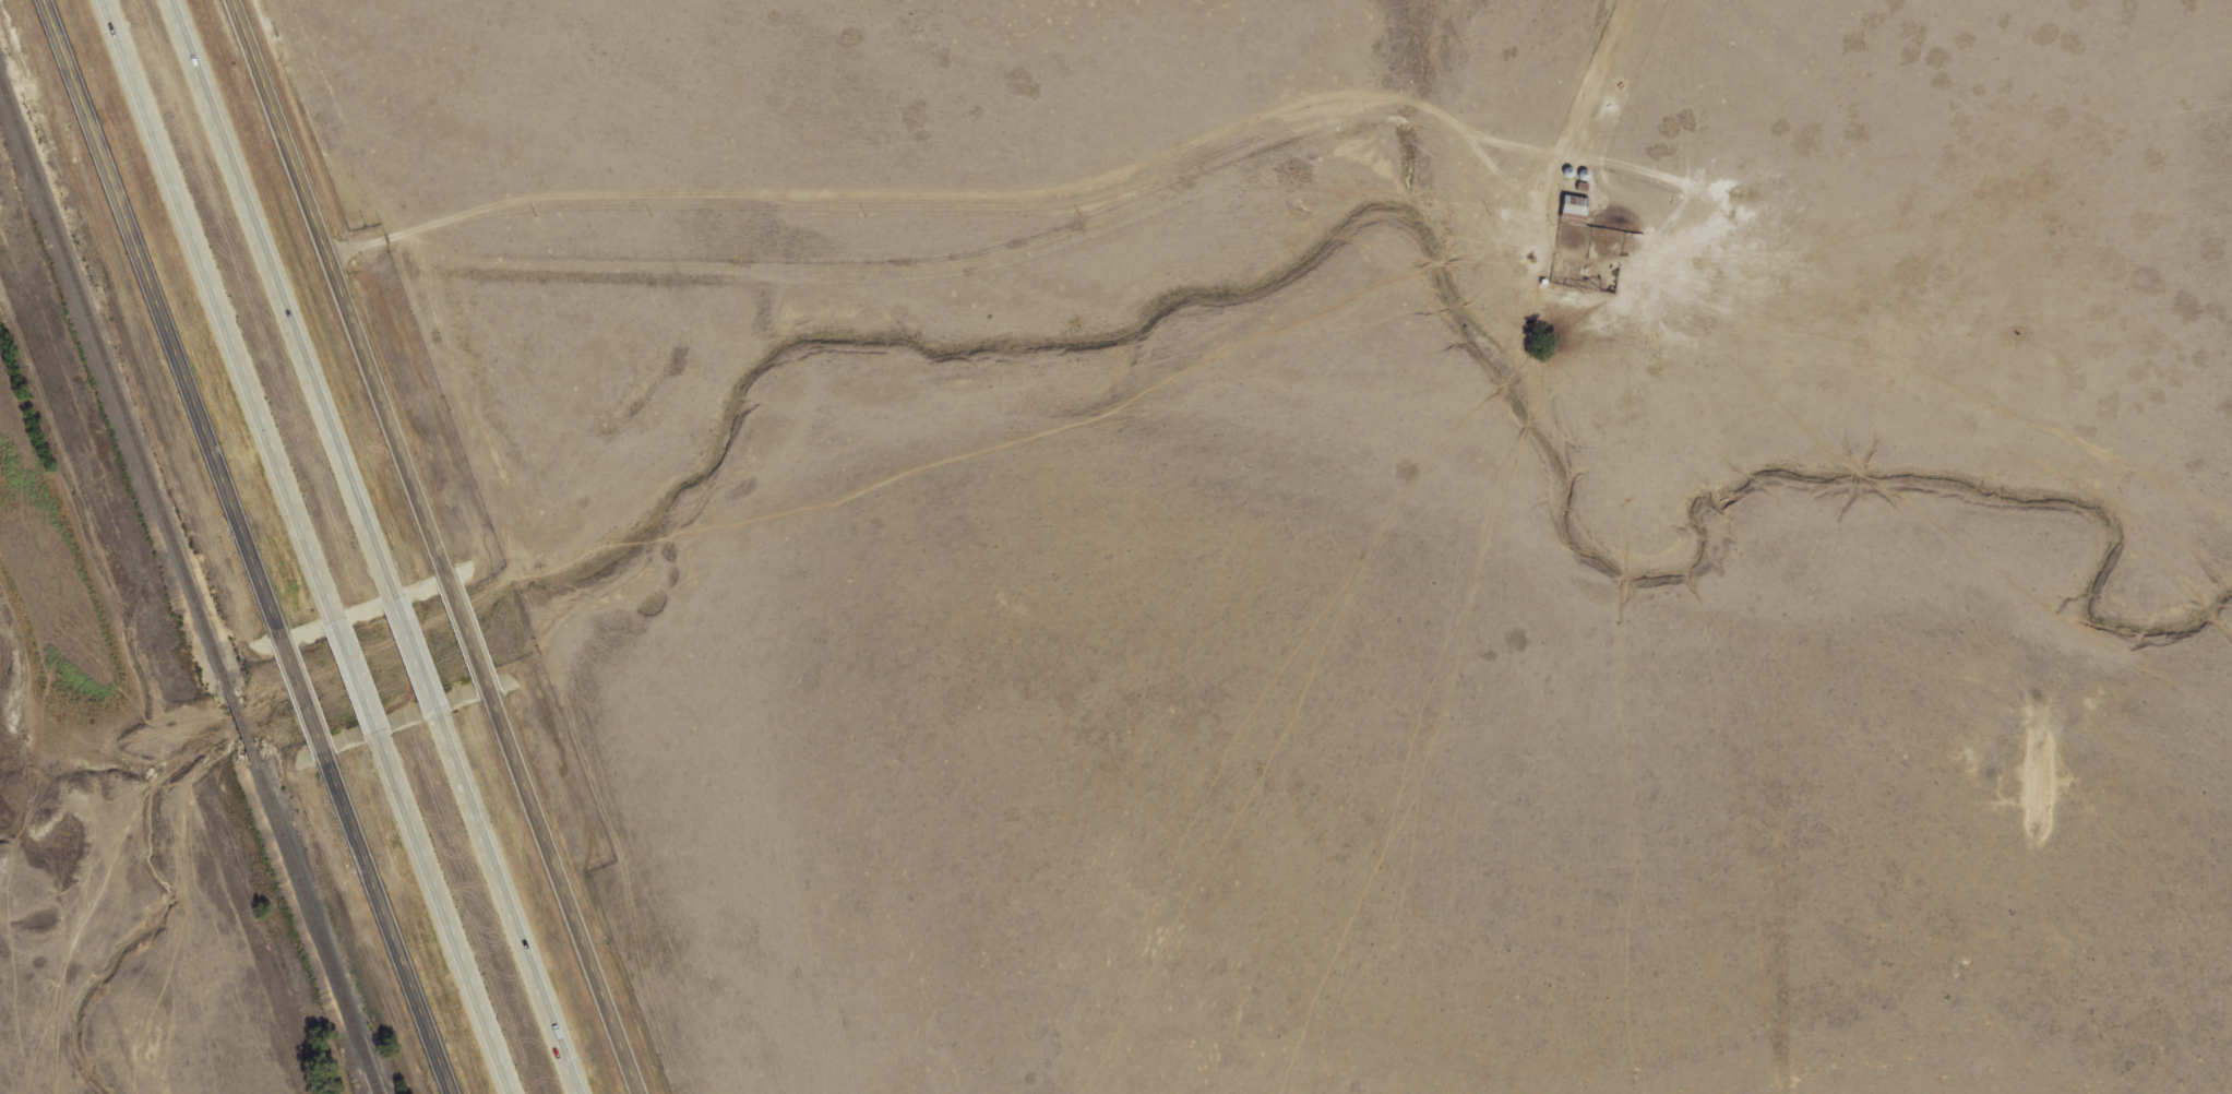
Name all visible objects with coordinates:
building: (1572, 210)
road: (339, 280)
road: (279, 290)
road: (218, 301)
road: (162, 311)
railway: (116, 390)
road: (467, 626)
road: (411, 644)
road: (354, 668)
road: (301, 691)
railway: (243, 718)
road: (566, 893)
road: (508, 901)
road: (444, 913)
railway: (320, 918)
road: (392, 927)

